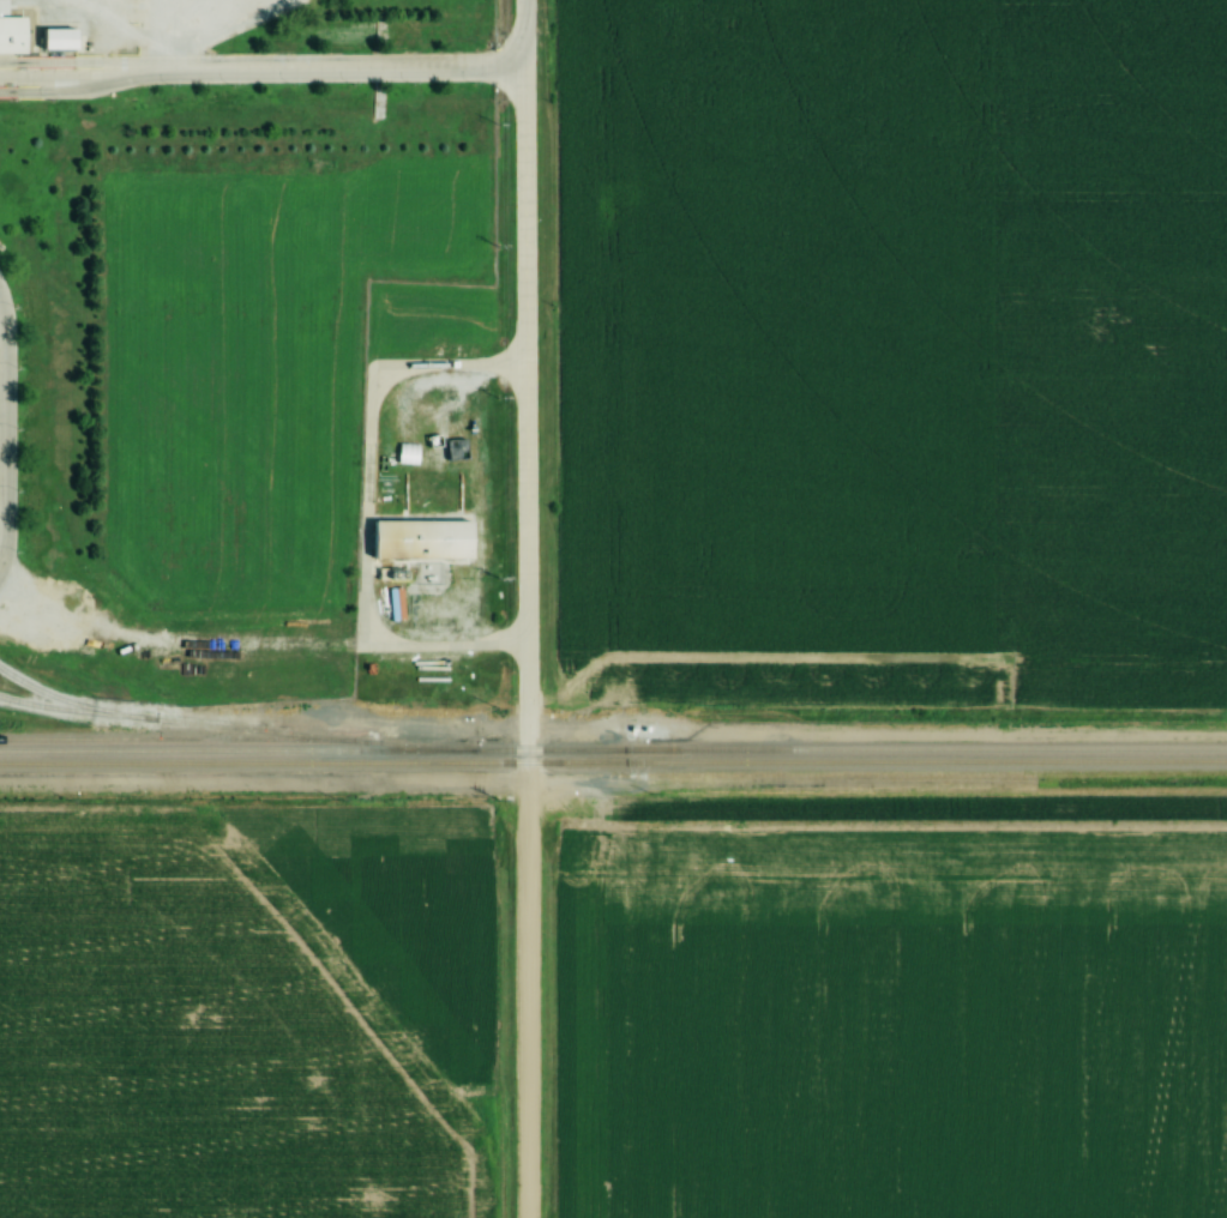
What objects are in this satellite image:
building: (14, 30)
building: (62, 36)
road: (259, 74)
crop: (260, 360)
road: (0, 463)
building: (426, 535)
road: (524, 608)
railway: (71, 709)
railway: (224, 726)
railway: (166, 740)
railway: (613, 748)
railway: (613, 761)

